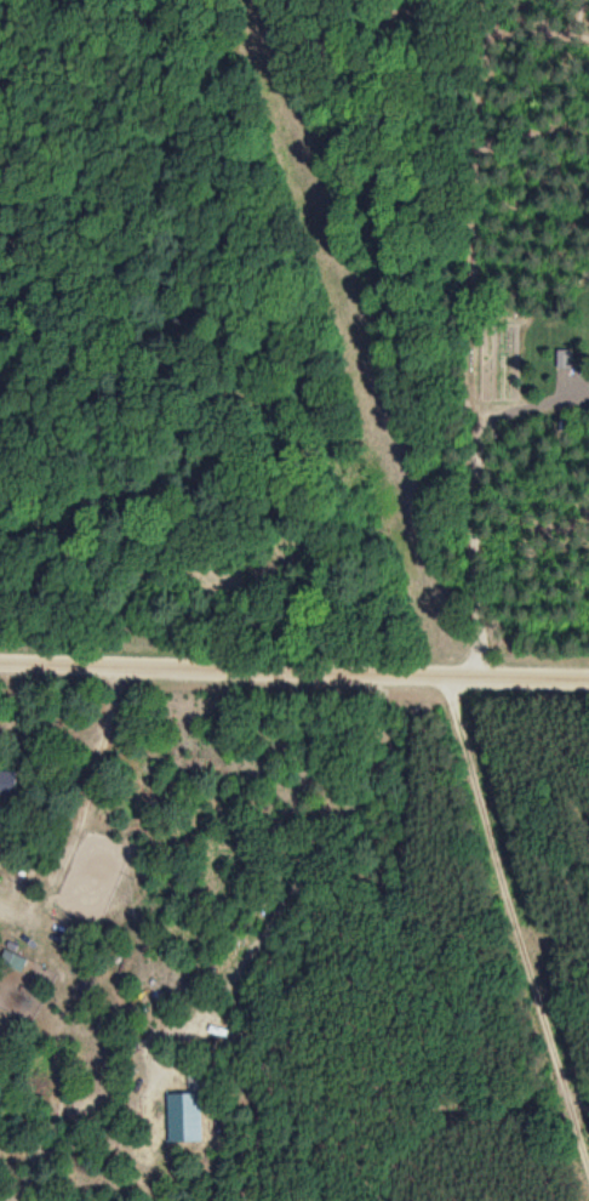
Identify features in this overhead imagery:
road: (293, 659)
building: (7, 781)
building: (70, 996)

